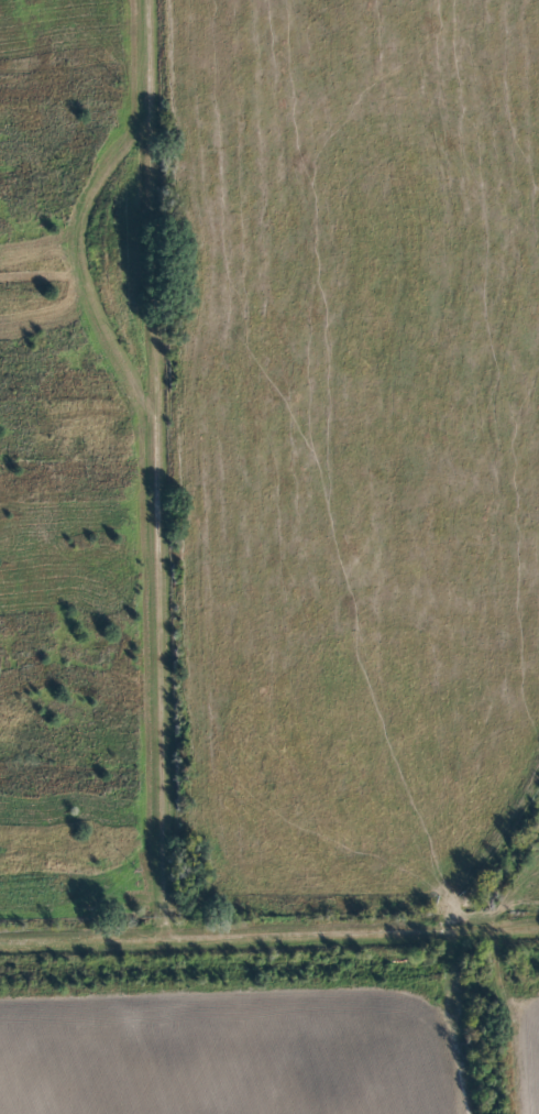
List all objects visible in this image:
road: (269, 930)

